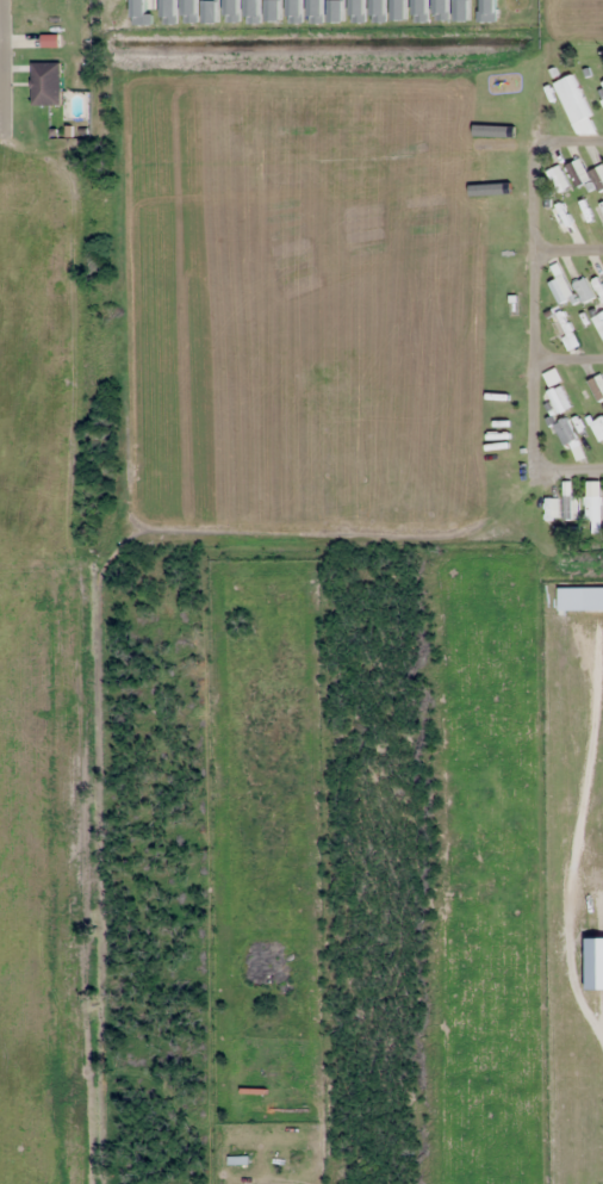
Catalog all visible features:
building: (50, 39)
building: (45, 82)
building: (602, 83)
building: (571, 99)
building: (602, 103)
building: (585, 174)
building: (558, 178)
building: (599, 211)
building: (565, 223)
building: (598, 285)
building: (560, 289)
building: (583, 290)
building: (560, 324)
building: (599, 324)
road: (301, 345)
building: (552, 377)
building: (597, 386)
building: (558, 398)
building: (583, 398)
building: (564, 432)
building: (570, 507)
building: (592, 508)
building: (551, 509)
building: (237, 1158)

